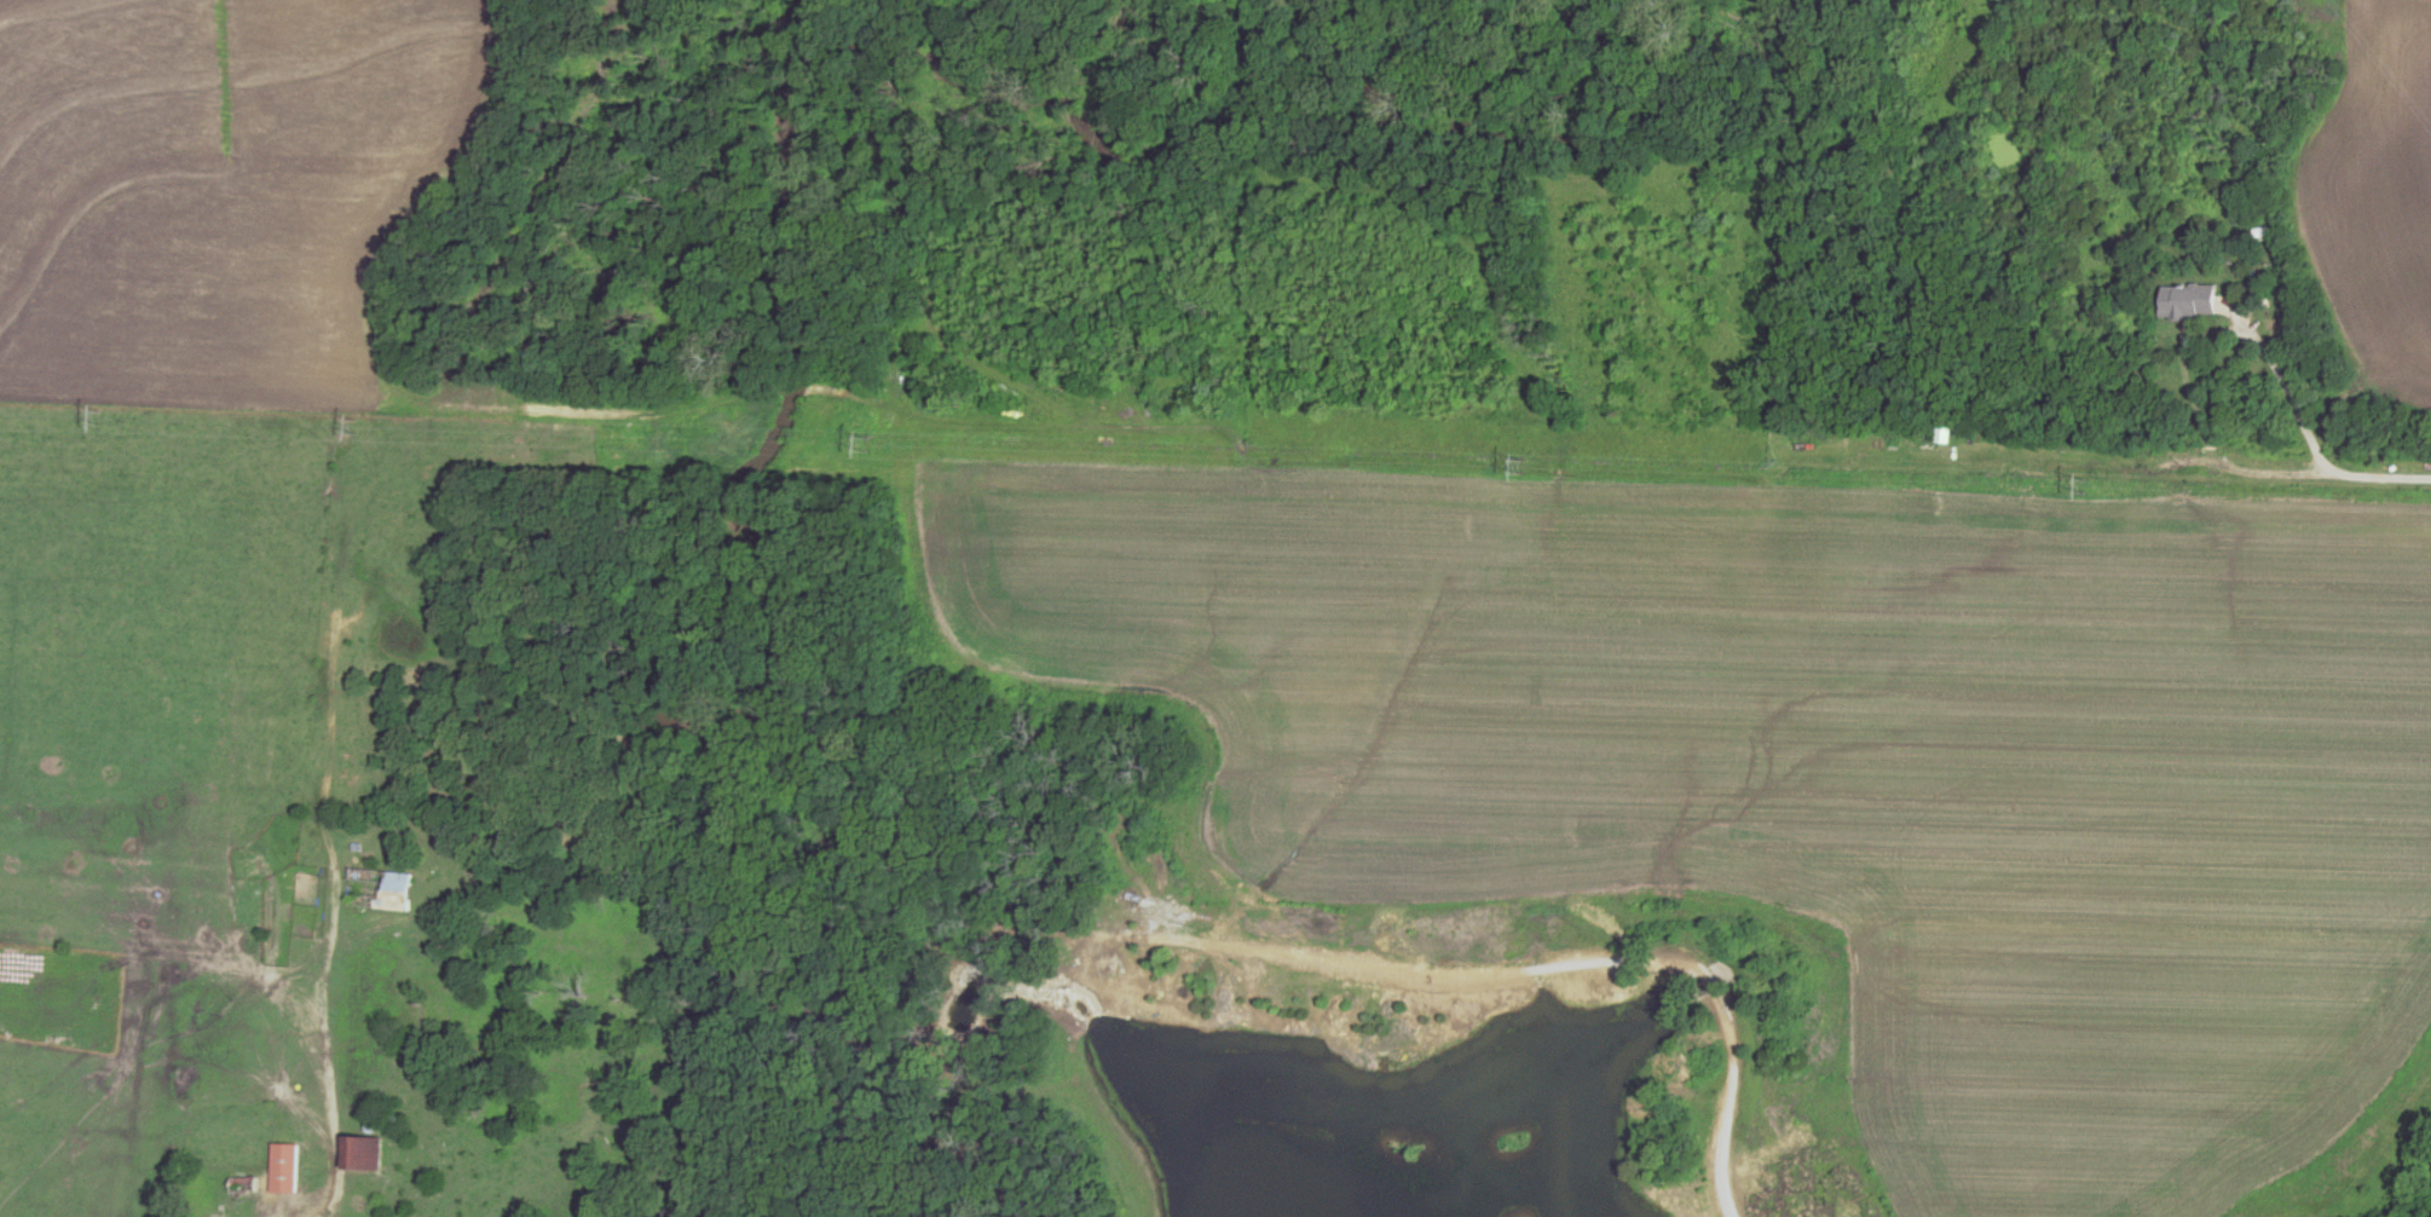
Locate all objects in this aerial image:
crop: (230, 191)
building: (2185, 300)
power tower: (104, 419)
power tower: (359, 428)
building: (1941, 433)
power tower: (901, 442)
power tower: (1525, 473)
power tower: (2077, 495)
crop: (1797, 783)
building: (386, 888)
building: (370, 1152)
building: (289, 1166)

